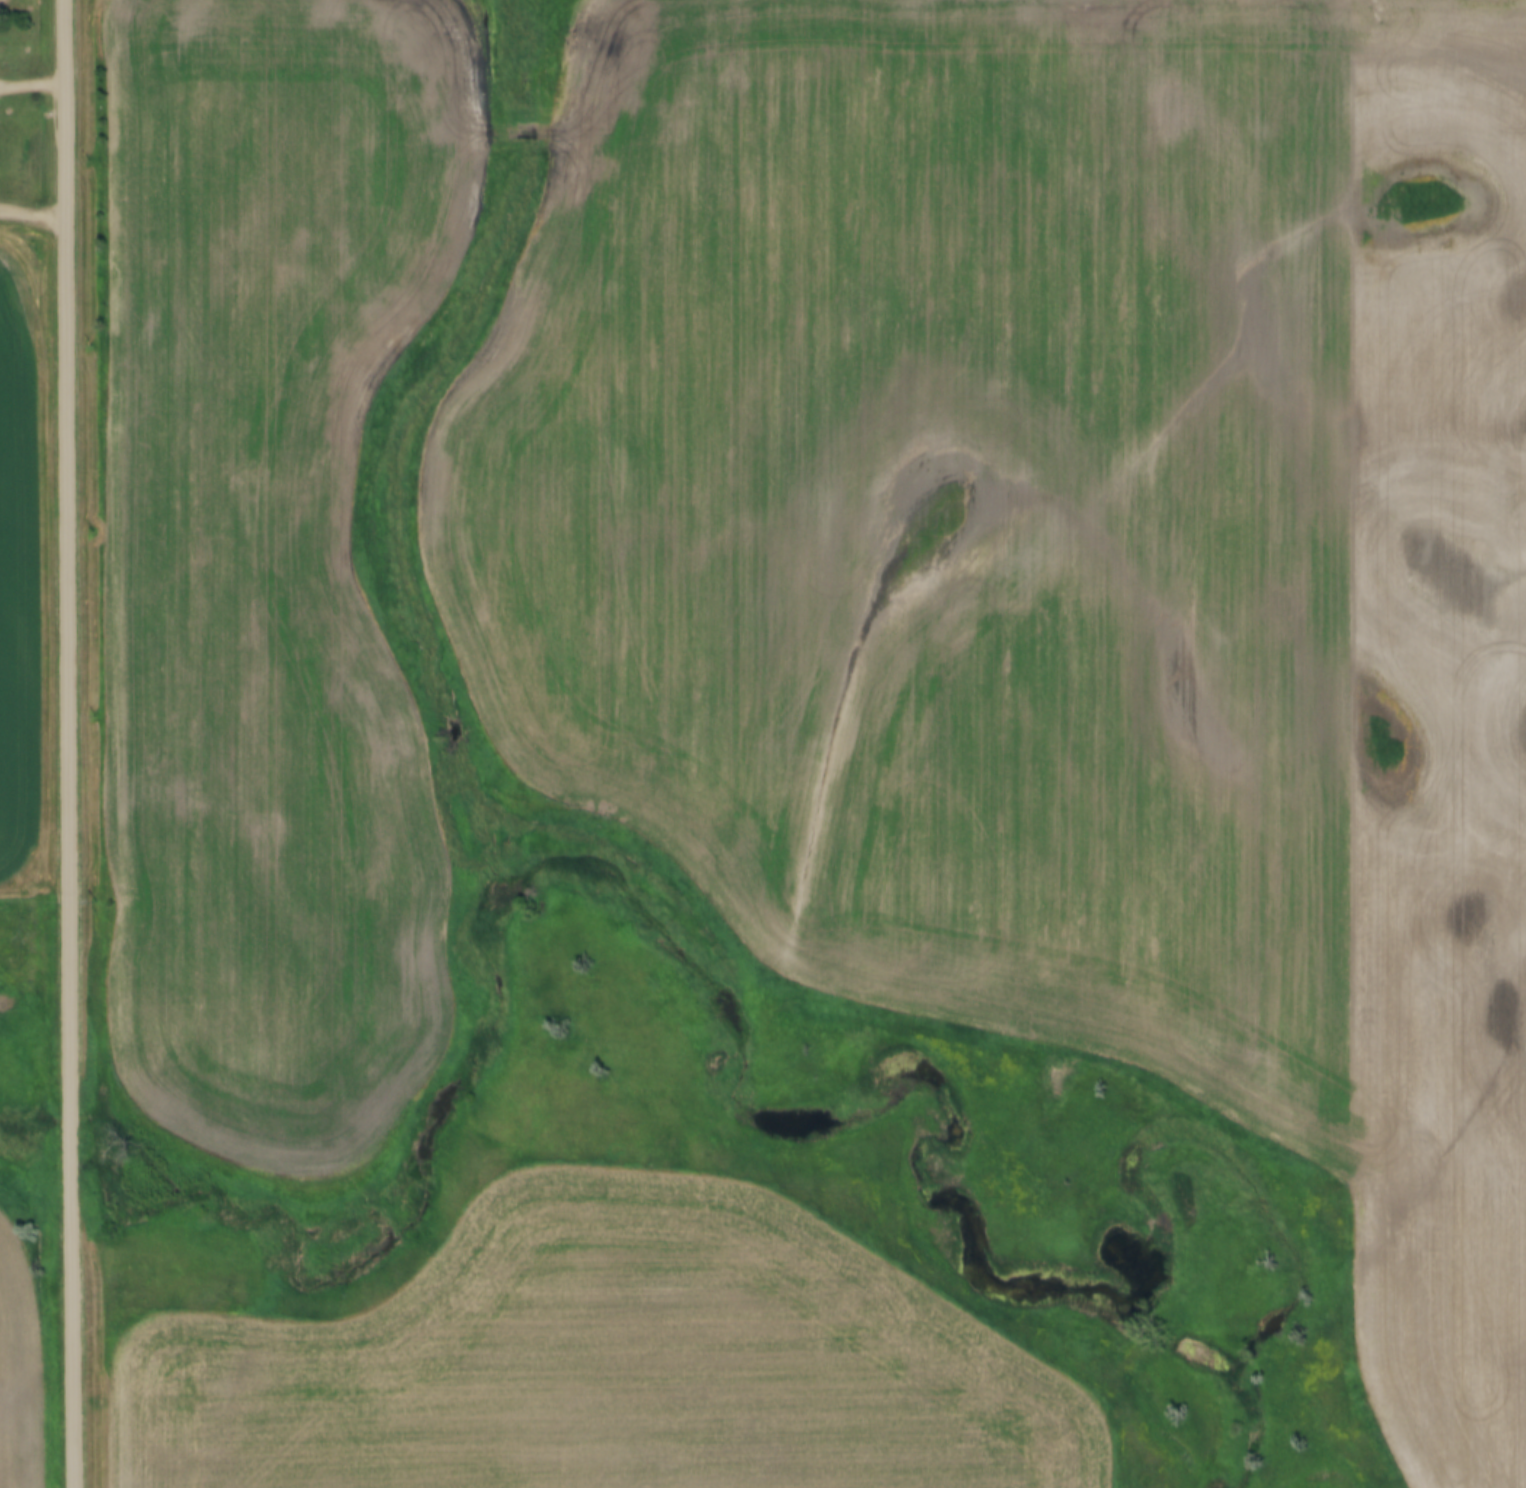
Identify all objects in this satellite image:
road: (0, 0)
road: (32, 214)
road: (67, 744)

